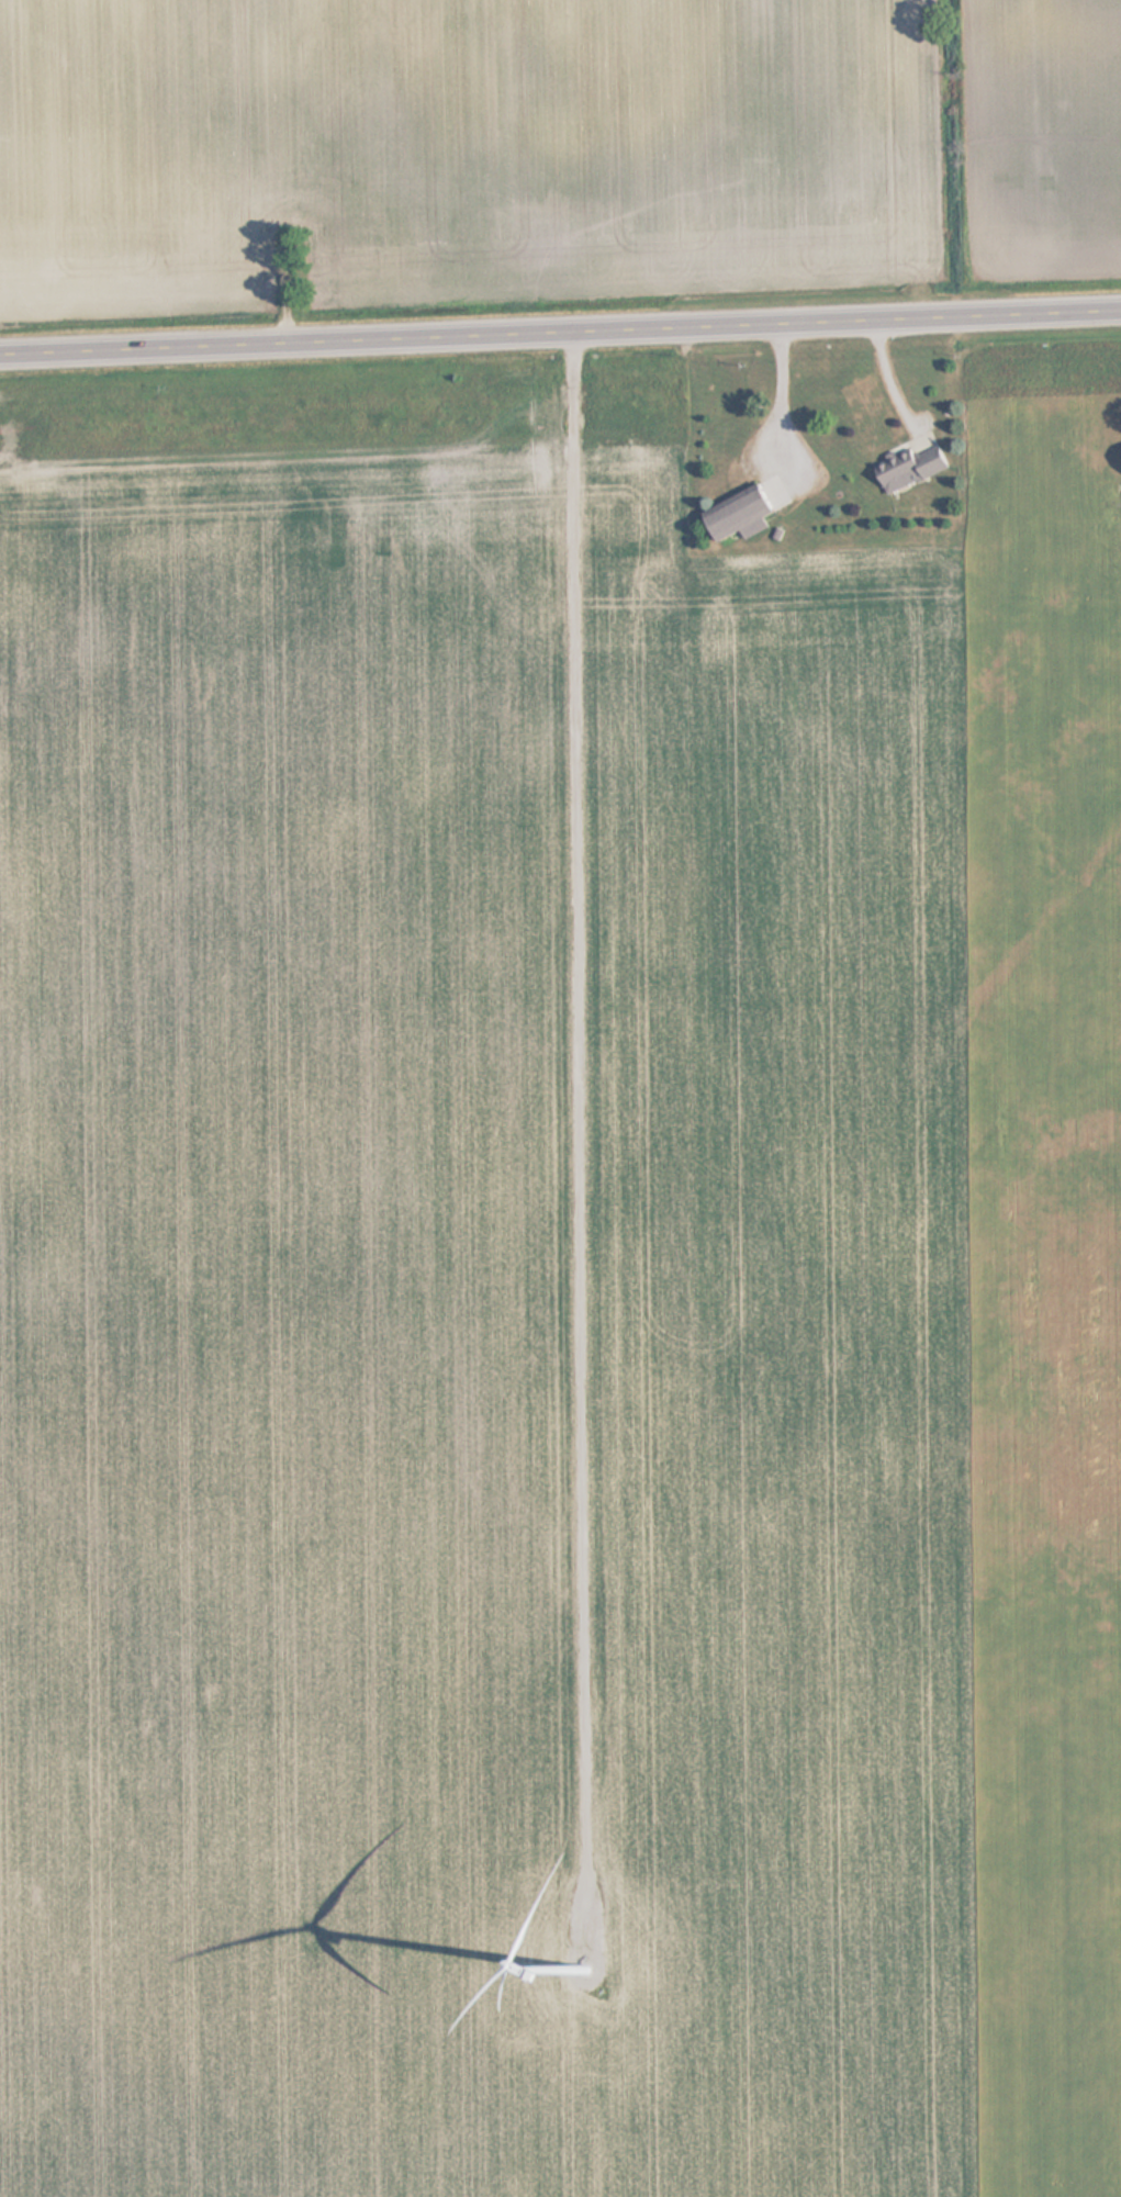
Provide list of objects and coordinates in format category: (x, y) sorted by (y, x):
road: (560, 333)
building: (908, 470)
building: (733, 515)
road: (588, 1095)
wind turbine: (606, 1991)

